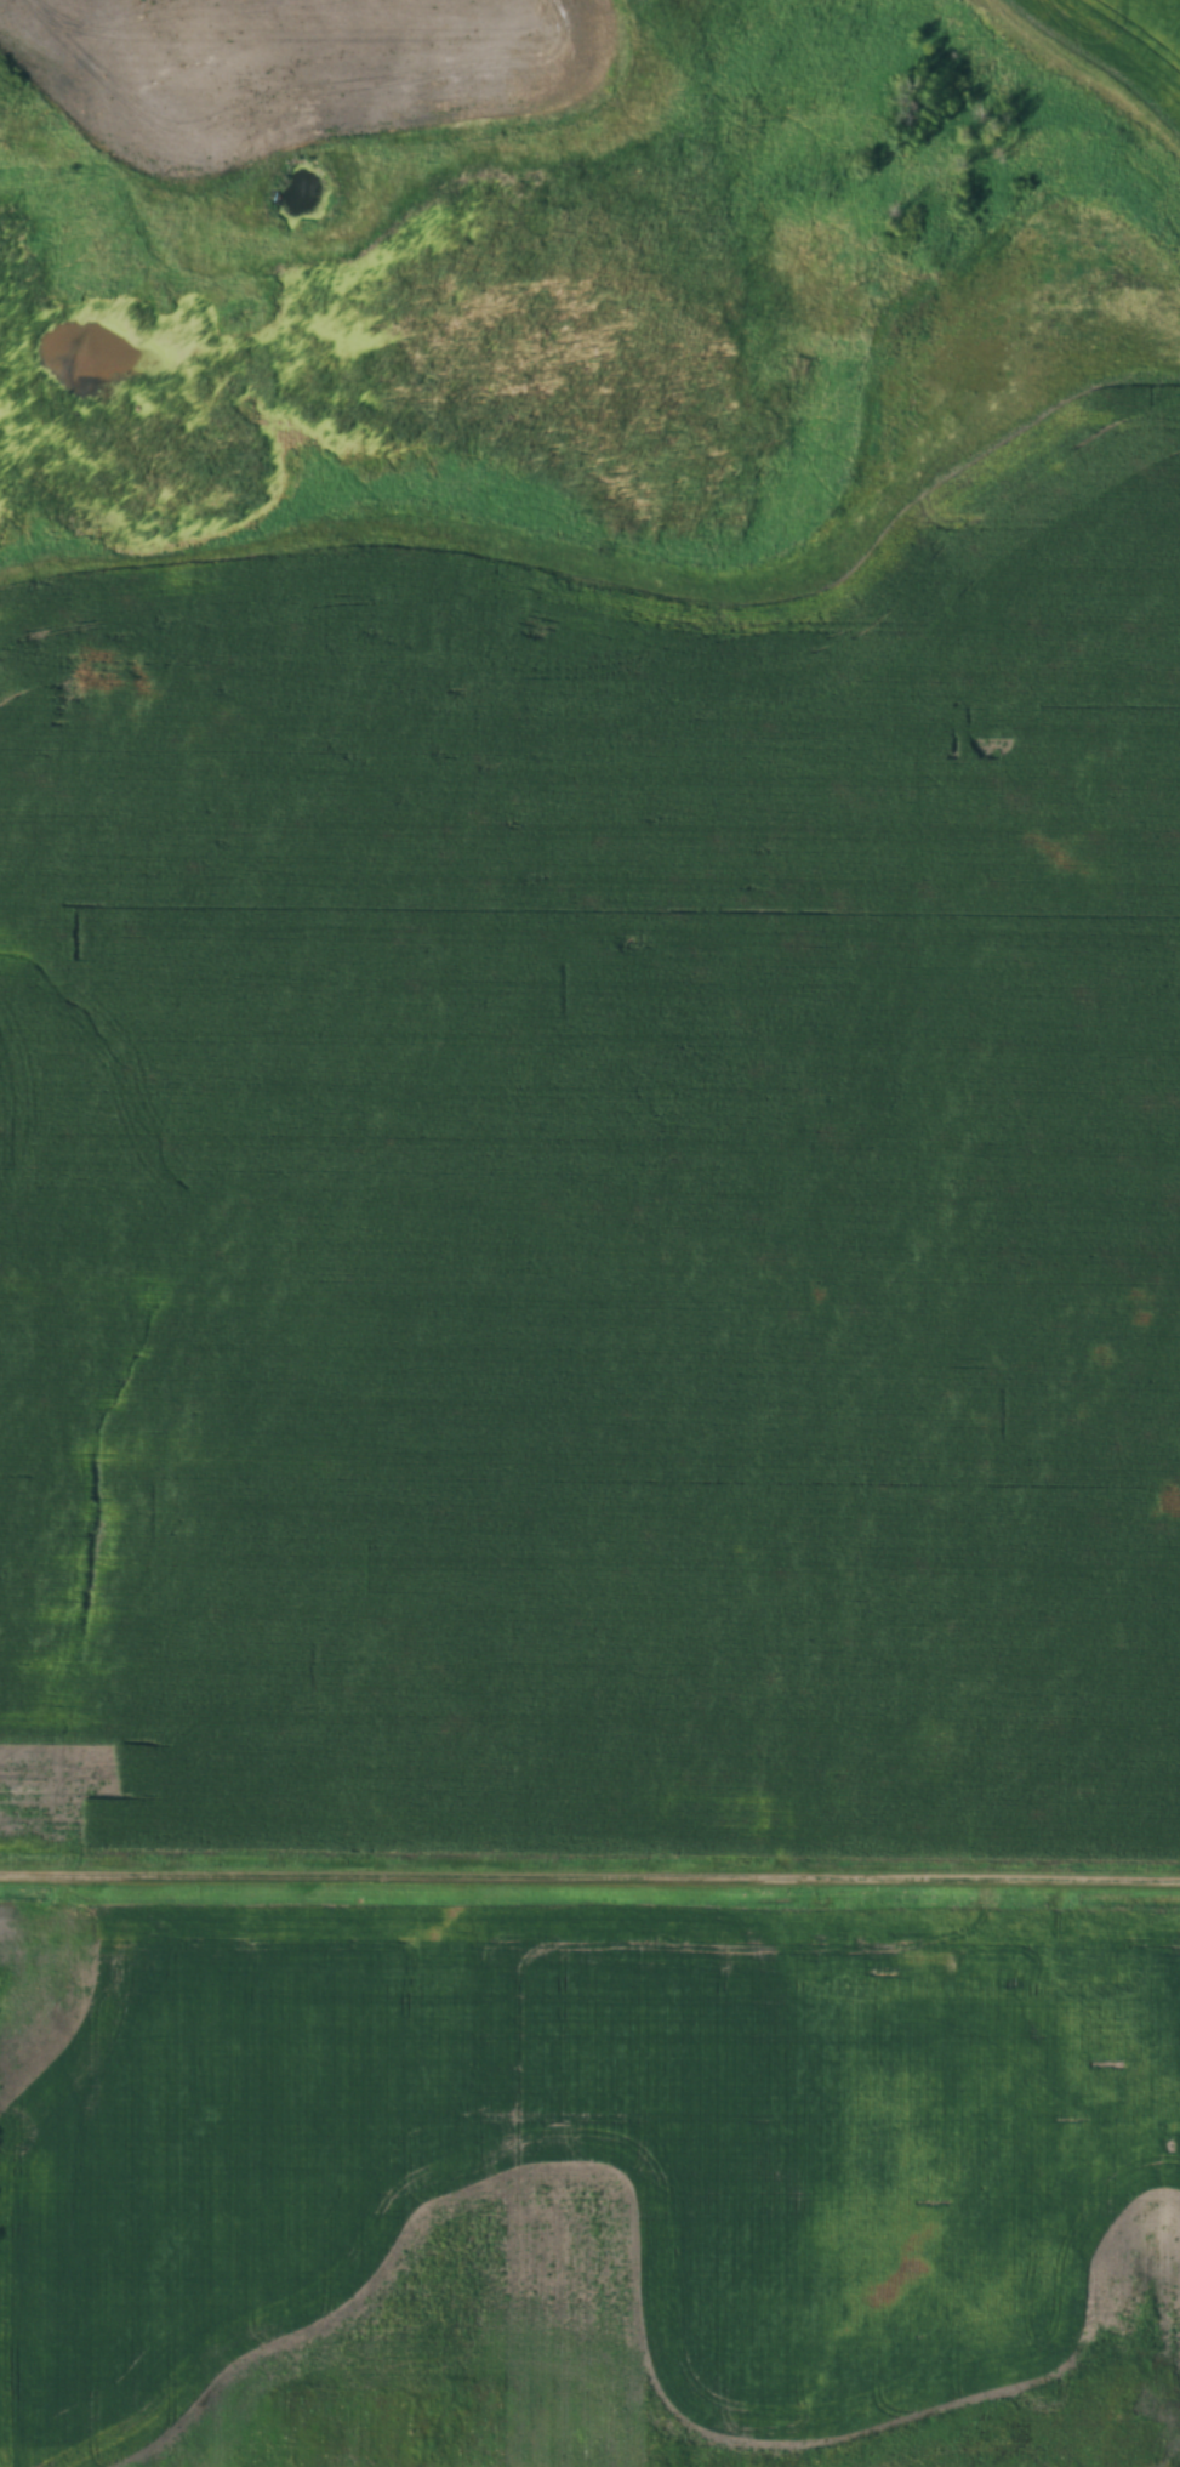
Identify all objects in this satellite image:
road: (589, 1872)
building: (1036, 2178)

